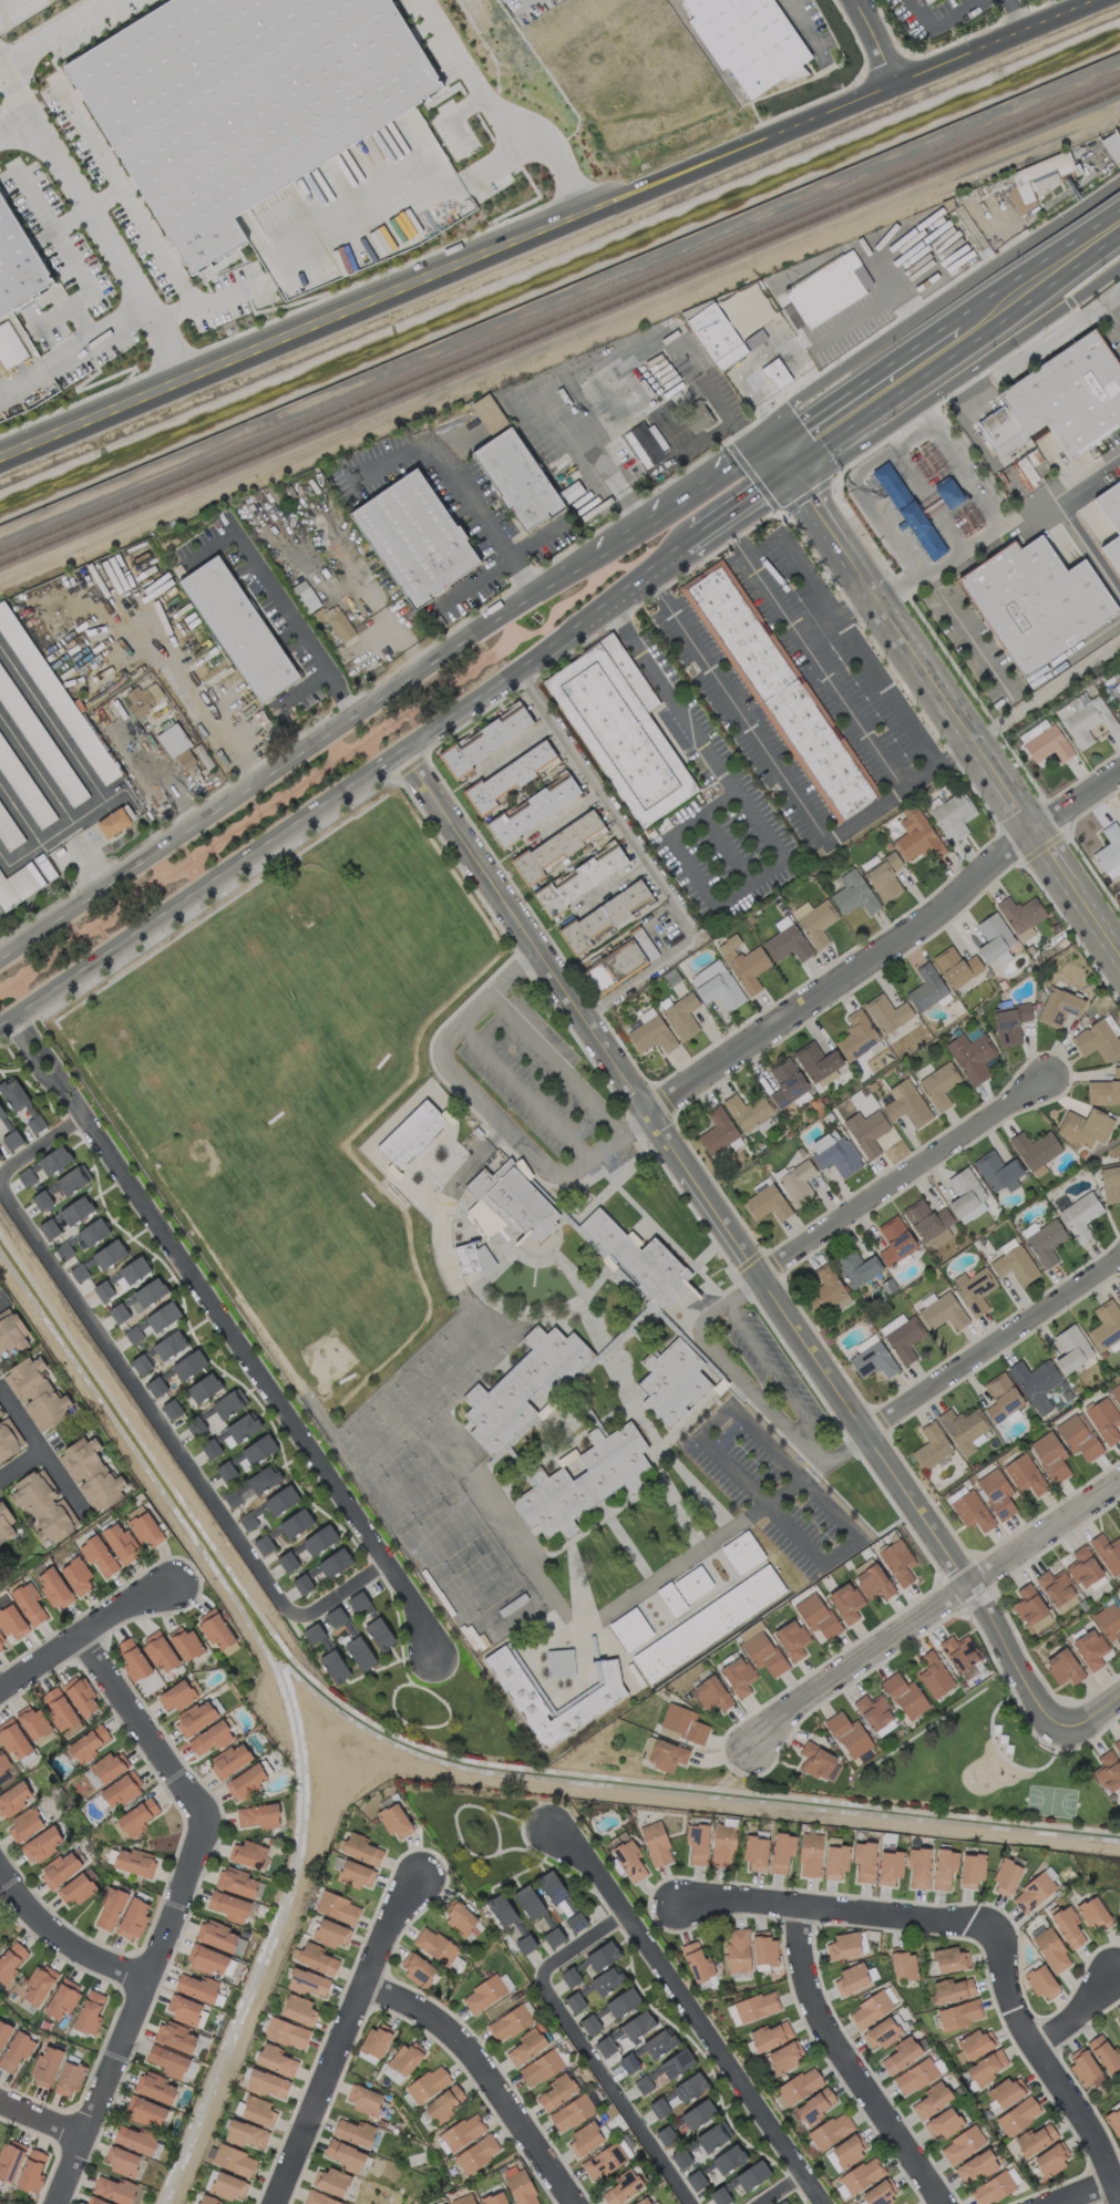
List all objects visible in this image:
building: (924, 1)
road: (1014, 11)
road: (941, 22)
road: (801, 27)
road: (869, 39)
building: (748, 40)
road: (19, 55)
road: (2, 71)
road: (2, 78)
building: (242, 101)
road: (499, 110)
road: (88, 134)
building: (1111, 146)
building: (1036, 179)
road: (538, 227)
road: (107, 245)
road: (157, 246)
building: (18, 266)
road: (1044, 272)
building: (825, 289)
road: (81, 296)
road: (1112, 297)
building: (746, 310)
railway: (559, 318)
railway: (559, 329)
road: (1064, 330)
building: (716, 336)
building: (9, 346)
building: (775, 373)
road: (873, 391)
building: (1059, 399)
building: (489, 412)
building: (697, 415)
road: (964, 421)
road: (784, 432)
building: (644, 443)
road: (598, 455)
traffic signals: (779, 456)
building: (1024, 471)
building: (516, 478)
road: (693, 482)
road: (980, 483)
road: (459, 486)
road: (853, 487)
building: (947, 492)
road: (925, 498)
road: (1034, 501)
building: (908, 511)
road: (1067, 516)
building: (1111, 519)
road: (726, 526)
road: (534, 535)
building: (414, 537)
road: (919, 577)
building: (1035, 600)
building: (102, 612)
road: (834, 616)
road: (292, 620)
building: (333, 621)
building: (238, 628)
building: (65, 638)
road: (824, 669)
road: (521, 670)
building: (1119, 679)
road: (300, 686)
road: (1045, 688)
building: (779, 690)
road: (664, 691)
road: (1005, 691)
building: (54, 694)
building: (142, 697)
road: (948, 708)
building: (1087, 721)
building: (620, 729)
building: (1031, 730)
building: (484, 740)
road: (64, 743)
building: (1047, 744)
road: (308, 745)
building: (177, 746)
building: (508, 776)
road: (787, 782)
building: (533, 809)
building: (953, 815)
building: (112, 822)
building: (916, 834)
building: (555, 845)
road: (726, 845)
road: (29, 848)
building: (1109, 851)
road: (83, 855)
road: (646, 858)
building: (884, 876)
building: (580, 878)
building: (16, 886)
building: (853, 893)
road: (195, 896)
road: (722, 898)
building: (1020, 915)
building: (603, 917)
building: (814, 920)
building: (994, 938)
road: (883, 941)
building: (787, 944)
building: (621, 960)
building: (743, 962)
building: (956, 966)
building: (716, 985)
building: (926, 987)
building: (1058, 1007)
building: (887, 1015)
building: (681, 1016)
building: (1009, 1021)
building: (648, 1031)
building: (856, 1037)
building: (1097, 1039)
road: (45, 1054)
building: (970, 1055)
road: (37, 1057)
road: (557, 1062)
building: (818, 1062)
road: (32, 1063)
building: (785, 1082)
parking lot: (530, 1083)
building: (938, 1084)
road: (524, 1090)
building: (1104, 1090)
building: (12, 1093)
building: (906, 1103)
road: (482, 1104)
building: (1, 1111)
building: (747, 1111)
building: (34, 1123)
building: (1085, 1126)
building: (412, 1131)
building: (717, 1131)
building: (866, 1131)
building: (1035, 1149)
building: (834, 1153)
building: (0, 1156)
building: (53, 1160)
building: (997, 1171)
building: (27, 1176)
road: (901, 1177)
building: (72, 1178)
building: (1110, 1182)
building: (798, 1183)
building: (964, 1191)
building: (44, 1197)
building: (517, 1201)
building: (767, 1203)
building: (75, 1209)
building: (970, 1213)
building: (1080, 1215)
building: (928, 1223)
building: (49, 1227)
building: (93, 1230)
building: (894, 1239)
building: (1046, 1242)
road: (730, 1244)
building: (63, 1249)
building: (109, 1253)
building: (471, 1256)
building: (640, 1259)
building: (1014, 1265)
building: (856, 1267)
building: (79, 1271)
building: (121, 1278)
building: (974, 1289)
building: (826, 1290)
building: (1118, 1297)
building: (136, 1300)
building: (942, 1311)
building: (152, 1321)
building: (1106, 1326)
road: (697, 1328)
building: (10, 1331)
building: (902, 1336)
road: (994, 1342)
building: (168, 1345)
building: (1071, 1348)
road: (761, 1350)
building: (872, 1360)
building: (142, 1363)
building: (188, 1363)
parking lot: (759, 1369)
road: (257, 1377)
building: (523, 1383)
building: (674, 1383)
building: (1035, 1383)
building: (155, 1386)
building: (203, 1387)
building: (37, 1392)
building: (1116, 1392)
building: (1001, 1397)
road: (143, 1400)
building: (228, 1402)
building: (171, 1409)
road: (770, 1413)
road: (799, 1419)
building: (1103, 1419)
building: (243, 1427)
building: (963, 1428)
building: (1078, 1435)
building: (8, 1436)
road: (763, 1442)
building: (931, 1445)
building: (210, 1448)
road: (846, 1448)
building: (258, 1449)
road: (813, 1450)
road: (39, 1451)
building: (1050, 1455)
road: (19, 1462)
park: (446, 1466)
building: (225, 1470)
building: (91, 1473)
building: (1024, 1473)
building: (263, 1479)
building: (586, 1481)
parking lot: (773, 1489)
building: (996, 1492)
building: (233, 1497)
building: (280, 1500)
building: (43, 1505)
building: (972, 1511)
building: (247, 1521)
building: (295, 1522)
building: (4, 1523)
building: (143, 1525)
building: (1119, 1528)
building: (120, 1543)
building: (263, 1544)
building: (307, 1546)
building: (743, 1551)
building: (1107, 1552)
building: (99, 1556)
building: (897, 1561)
building: (335, 1562)
building: (1083, 1567)
building: (76, 1575)
building: (305, 1580)
building: (873, 1582)
building: (692, 1583)
building: (53, 1588)
building: (1057, 1589)
building: (671, 1598)
building: (845, 1601)
building: (29, 1603)
building: (1031, 1607)
road: (932, 1611)
building: (816, 1615)
building: (335, 1616)
building: (11, 1620)
building: (1109, 1620)
building: (708, 1623)
road: (86, 1627)
building: (631, 1628)
building: (215, 1629)
building: (312, 1633)
building: (379, 1633)
building: (791, 1638)
building: (184, 1642)
building: (1, 1644)
building: (1090, 1648)
building: (158, 1649)
building: (359, 1652)
building: (762, 1652)
building: (960, 1654)
building: (132, 1658)
building: (333, 1666)
building: (1064, 1666)
building: (934, 1673)
building: (738, 1676)
building: (179, 1693)
building: (710, 1693)
building: (80, 1695)
building: (592, 1696)
building: (904, 1696)
building: (523, 1698)
park: (445, 1709)
building: (61, 1712)
building: (875, 1713)
road: (1088, 1713)
building: (197, 1716)
building: (682, 1722)
building: (33, 1723)
building: (849, 1734)
building: (210, 1736)
building: (12, 1738)
building: (86, 1743)
building: (1117, 1743)
building: (666, 1754)
building: (228, 1760)
building: (815, 1760)
building: (3, 1762)
park: (986, 1767)
building: (104, 1769)
building: (1108, 1771)
building: (245, 1781)
building: (121, 1790)
building: (13, 1798)
park: (1051, 1801)
building: (258, 1815)
building: (136, 1816)
building: (394, 1820)
building: (23, 1824)
park: (477, 1829)
building: (697, 1842)
building: (41, 1843)
building: (655, 1843)
building: (722, 1844)
building: (360, 1848)
building: (756, 1852)
building: (781, 1852)
building: (248, 1854)
building: (810, 1854)
building: (628, 1858)
building: (835, 1861)
building: (864, 1861)
building: (134, 1862)
building: (888, 1866)
building: (918, 1866)
building: (943, 1867)
building: (59, 1868)
building: (970, 1868)
building: (355, 1874)
building: (1006, 1876)
building: (236, 1882)
building: (552, 1887)
building: (75, 1888)
building: (1035, 1889)
building: (528, 1902)
building: (228, 1906)
building: (337, 1906)
road: (836, 1907)
building: (110, 1908)
road: (172, 1908)
road: (1, 1909)
building: (501, 1909)
building: (1093, 1914)
building: (133, 1918)
building: (462, 1920)
building: (575, 1920)
building: (1068, 1927)
park: (8, 1929)
building: (330, 1933)
building: (215, 1935)
road: (63, 1936)
building: (553, 1936)
building: (525, 1944)
building: (434, 1945)
building: (843, 1945)
building: (763, 1948)
building: (738, 1949)
building: (1050, 1949)
building: (602, 1955)
building: (316, 1957)
building: (951, 1958)
building: (207, 1959)
building: (10, 1960)
building: (697, 1961)
building: (902, 1964)
building: (417, 1968)
building: (569, 1976)
building: (851, 1978)
building: (606, 1979)
building: (307, 1981)
building: (1041, 1981)
building: (38, 1985)
building: (196, 1987)
building: (952, 1989)
building: (483, 1994)
building: (61, 1998)
building: (574, 2001)
building: (621, 2001)
road: (686, 2007)
building: (752, 2007)
road: (1076, 2007)
building: (183, 2008)
building: (871, 2008)
building: (299, 2009)
building: (89, 2011)
building: (959, 2014)
building: (1117, 2021)
building: (508, 2022)
building: (588, 2023)
building: (637, 2025)
road: (342, 2030)
building: (3, 2031)
building: (286, 2032)
building: (880, 2032)
building: (769, 2035)
building: (174, 2036)
building: (374, 2040)
building: (659, 2042)
building: (525, 2045)
building: (974, 2045)
road: (582, 2047)
building: (16, 2050)
building: (1104, 2052)
building: (783, 2056)
building: (900, 2056)
building: (275, 2059)
building: (167, 2060)
building: (403, 2060)
road: (851, 2060)
building: (628, 2062)
building: (676, 2063)
building: (44, 2066)
building: (1082, 2066)
building: (541, 2067)
road: (1056, 2067)
building: (985, 2068)
road: (482, 2076)
building: (915, 2076)
building: (68, 2079)
building: (267, 2082)
building: (424, 2085)
building: (798, 2085)
building: (153, 2087)
building: (557, 2091)
building: (1006, 2091)
building: (677, 2094)
building: (363, 2099)
building: (932, 2099)
building: (443, 2103)
building: (812, 2107)
building: (145, 2111)
building: (257, 2111)
building: (571, 2112)
building: (698, 2113)
building: (1017, 2114)
road: (40, 2120)
building: (1114, 2120)
building: (943, 2122)
building: (830, 2130)
building: (353, 2131)
building: (462, 2131)
building: (245, 2133)
building: (665, 2135)
building: (712, 2135)
building: (134, 2139)
building: (584, 2139)
building: (1035, 2139)
building: (962, 2144)
building: (847, 2150)
building: (476, 2153)
building: (345, 2155)
building: (680, 2157)
building: (10, 2159)
building: (728, 2159)
building: (1050, 2159)
building: (122, 2160)
building: (234, 2160)
building: (604, 2160)
building: (976, 2165)
building: (31, 2171)
building: (751, 2174)
building: (861, 2175)
building: (696, 2180)
building: (330, 2181)
building: (227, 2185)
building: (520, 2185)
building: (620, 2187)
building: (991, 2187)
building: (113, 2188)
road: (779, 2190)
road: (1085, 2190)
building: (880, 2192)
building: (719, 2195)
building: (319, 2198)
building: (494, 2198)
building: (207, 2200)
building: (462, 2200)
building: (95, 2201)
building: (644, 2201)
building: (902, 2203)

